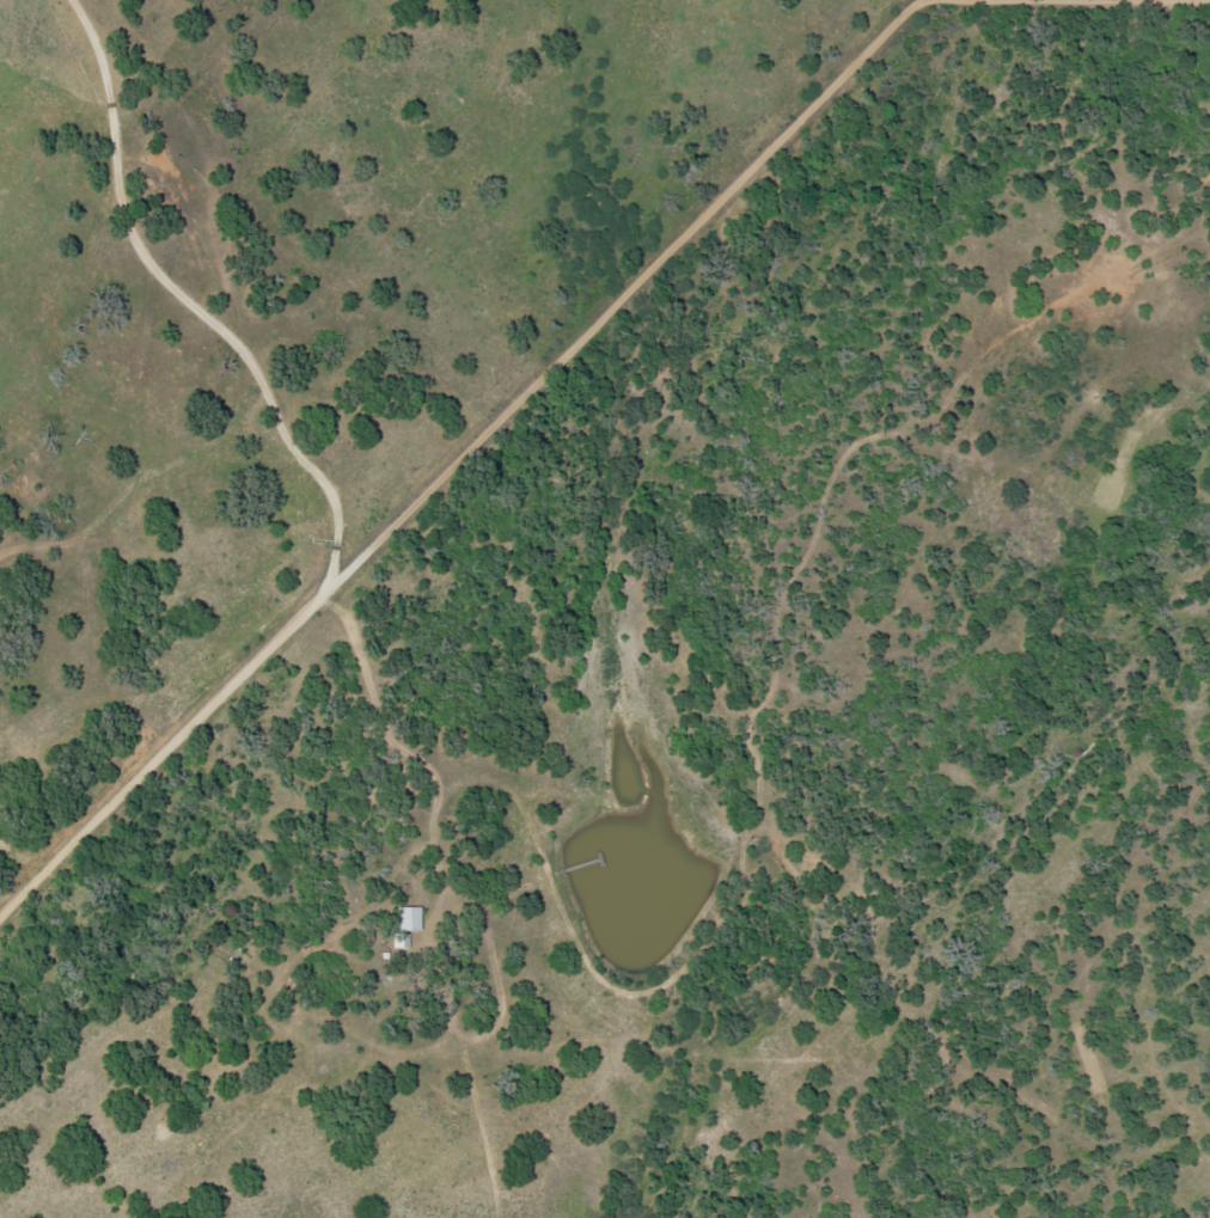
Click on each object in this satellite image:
road: (459, 461)
building: (407, 925)

